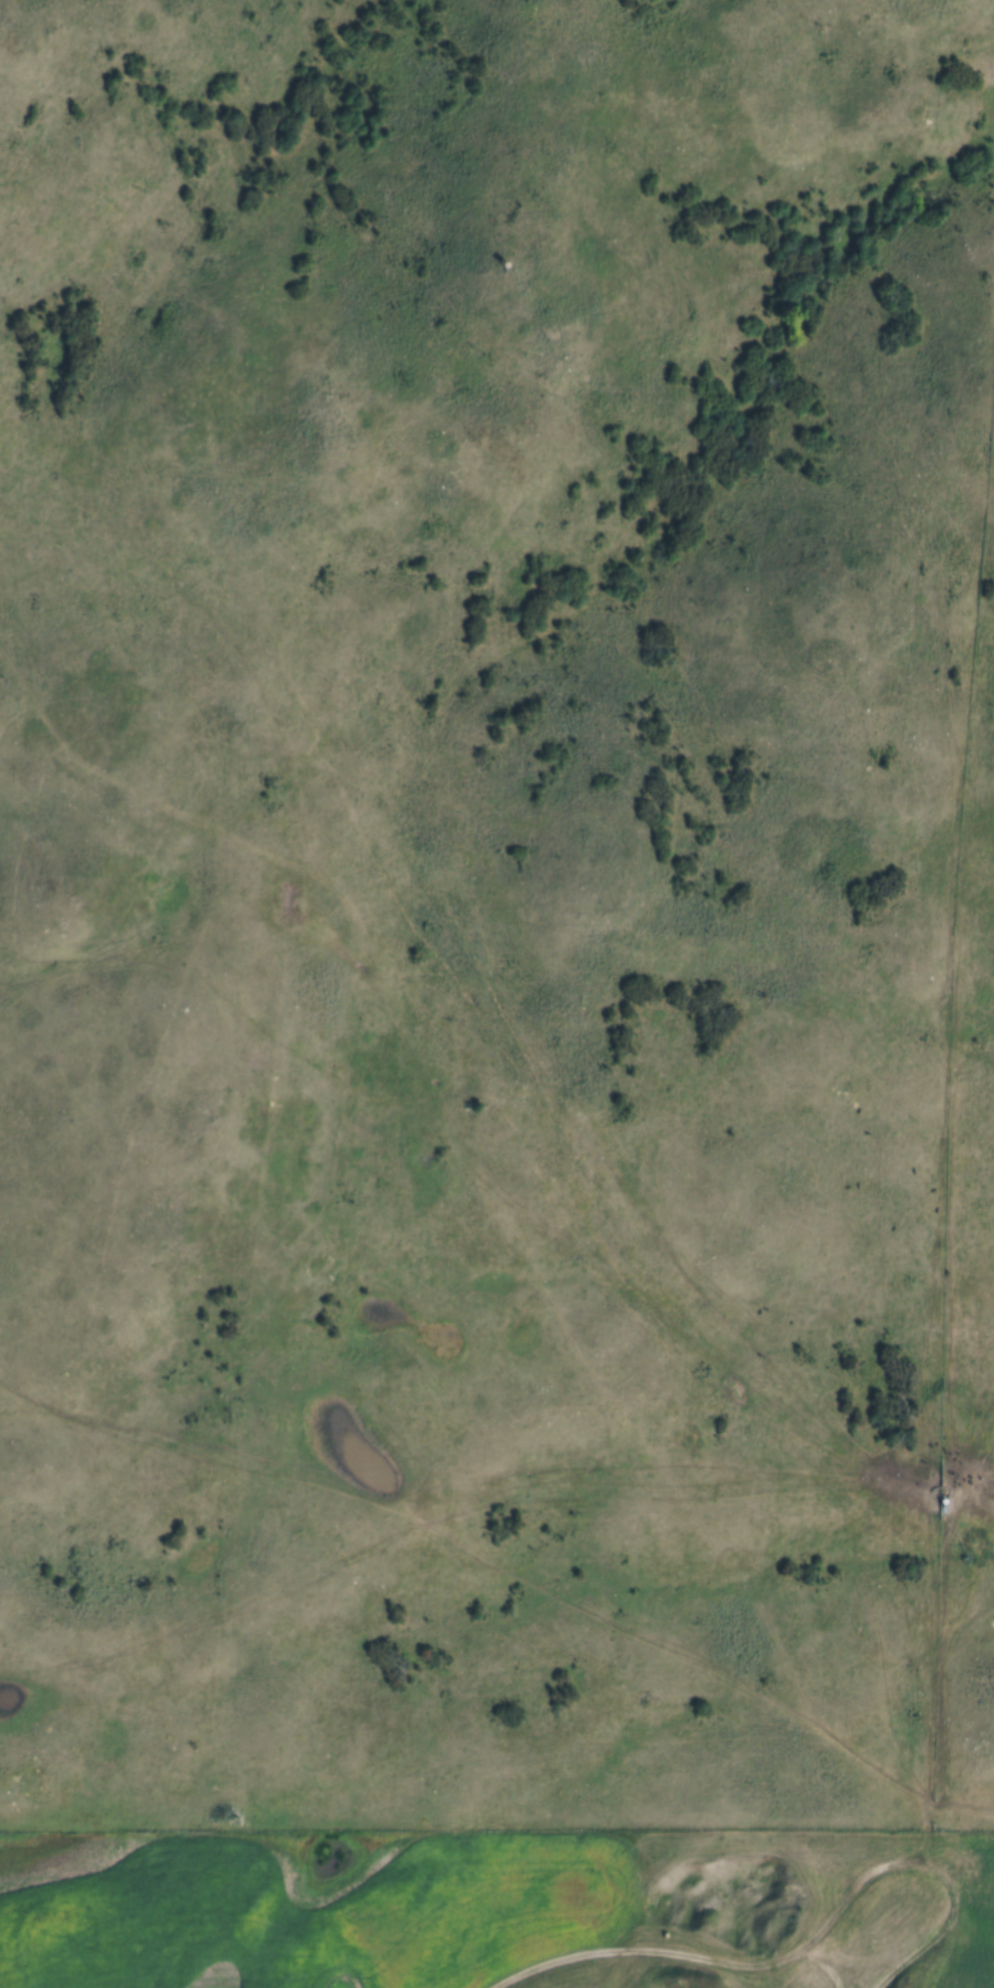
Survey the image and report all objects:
road: (671, 1952)
quarry: (759, 1978)

